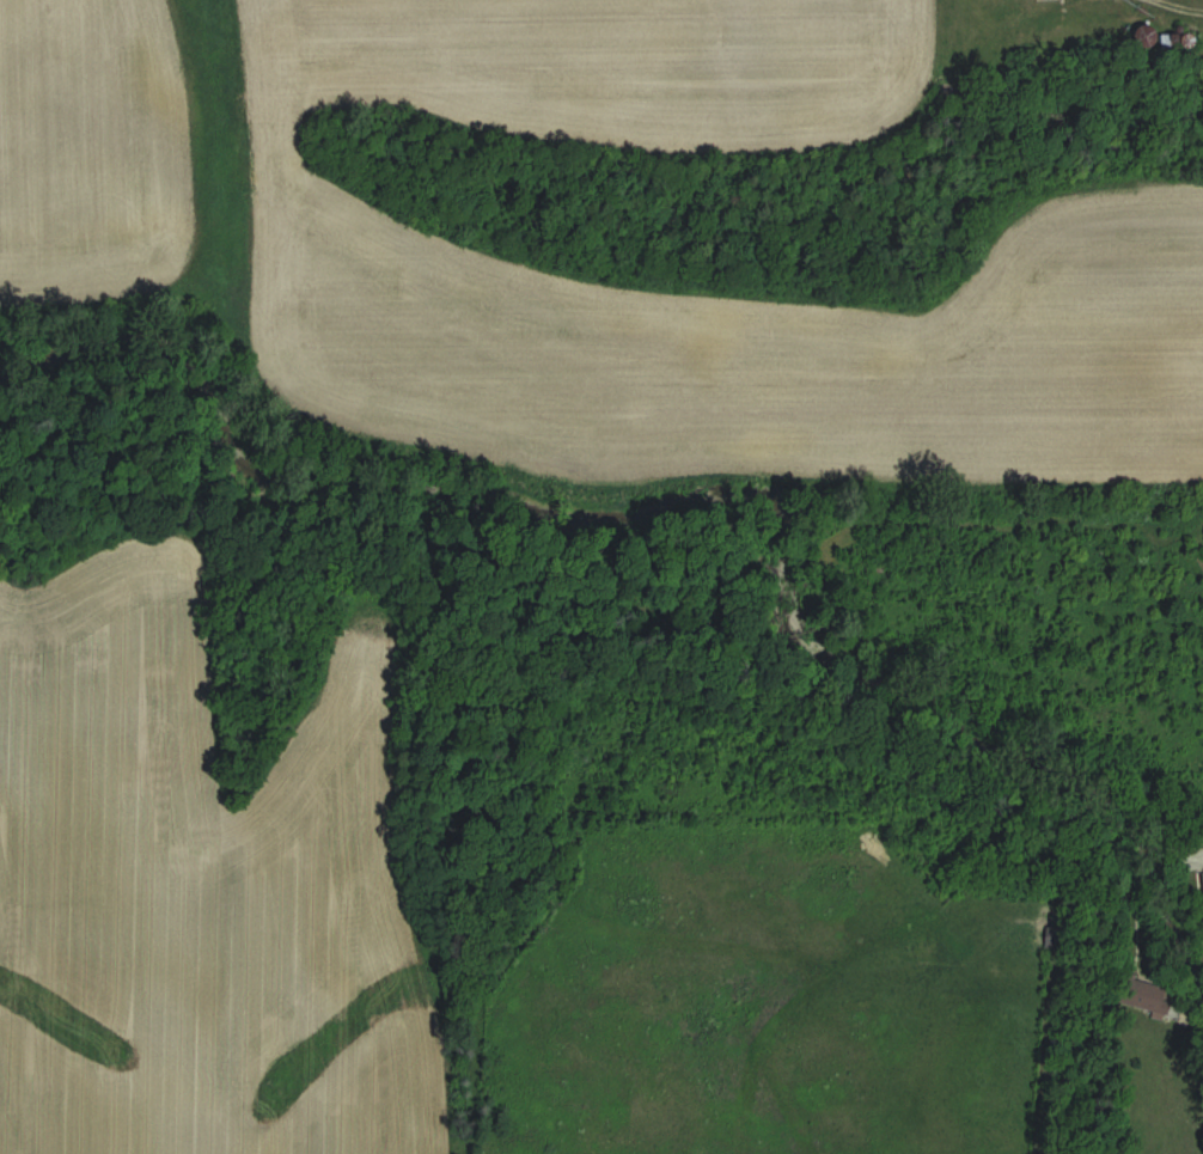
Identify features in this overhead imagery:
road: (1178, 8)

